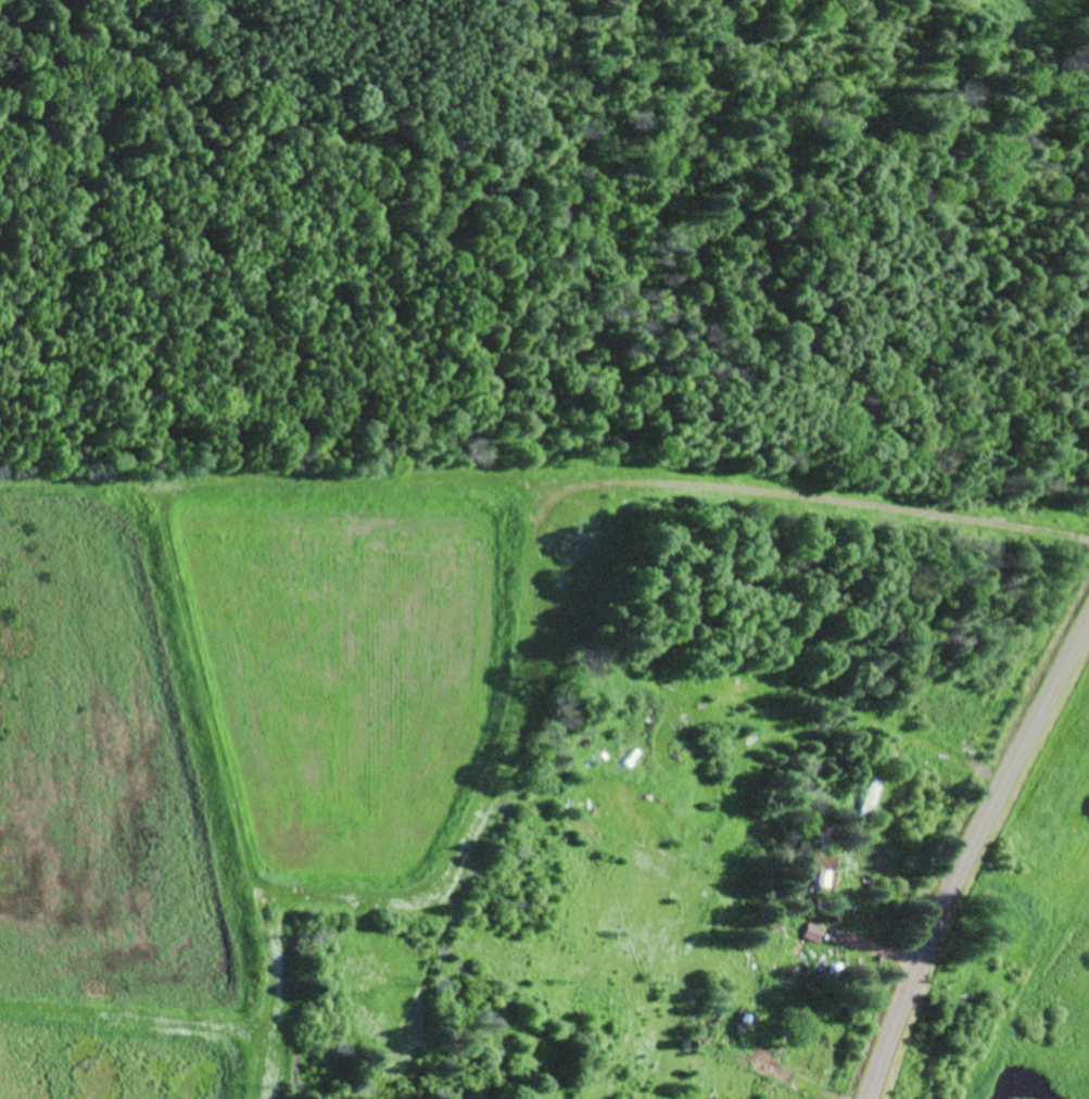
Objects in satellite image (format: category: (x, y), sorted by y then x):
building: (866, 803)
road: (967, 854)
building: (814, 869)

